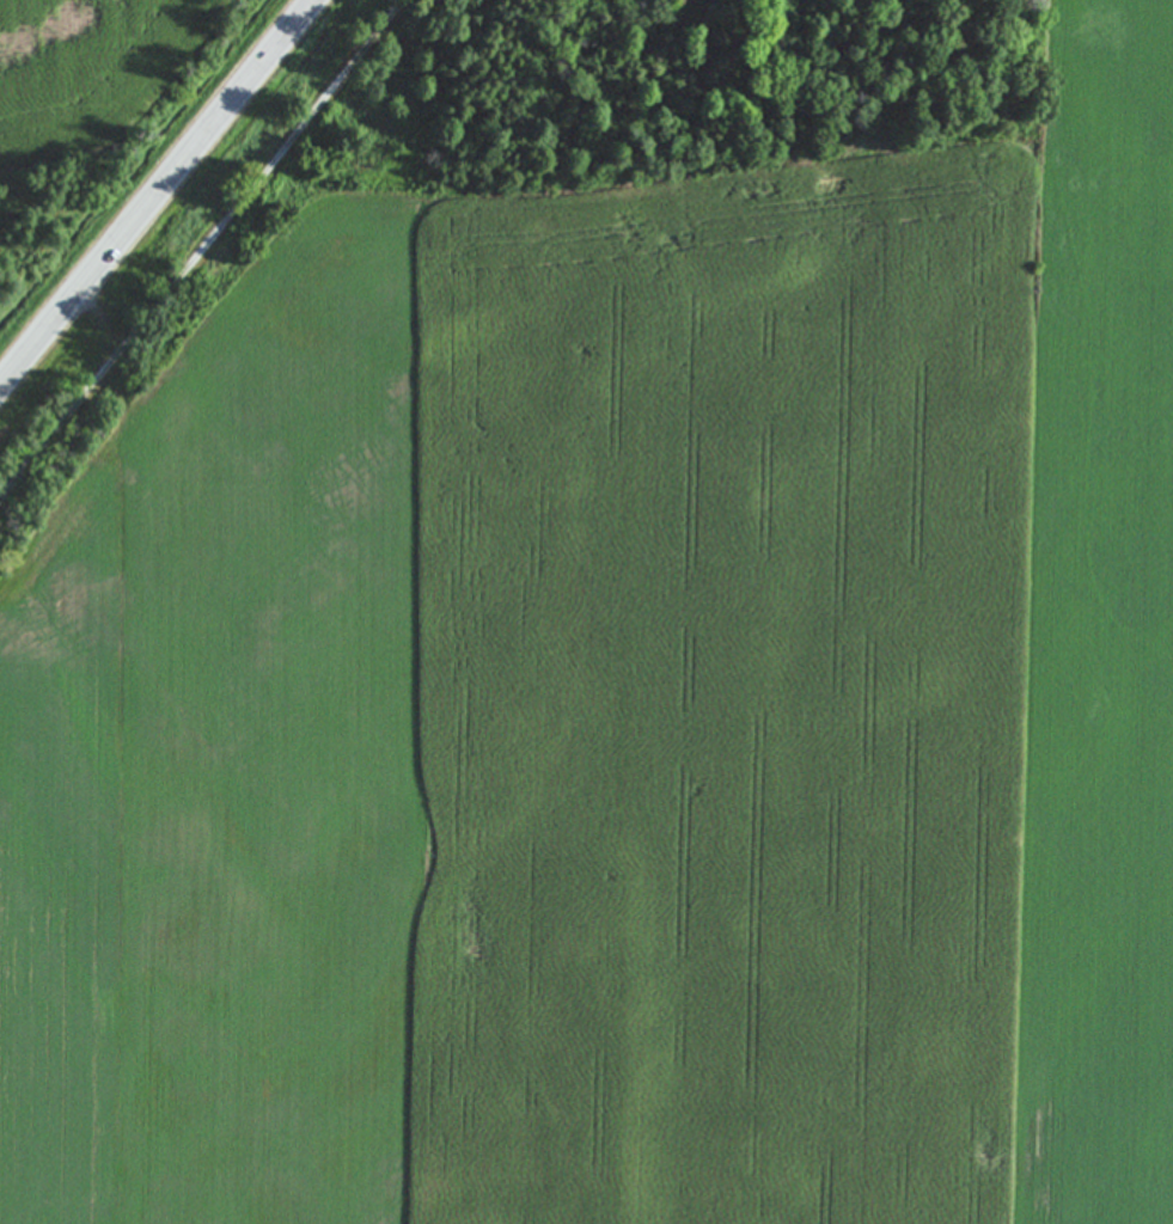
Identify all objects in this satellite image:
road: (160, 198)
road: (201, 251)

